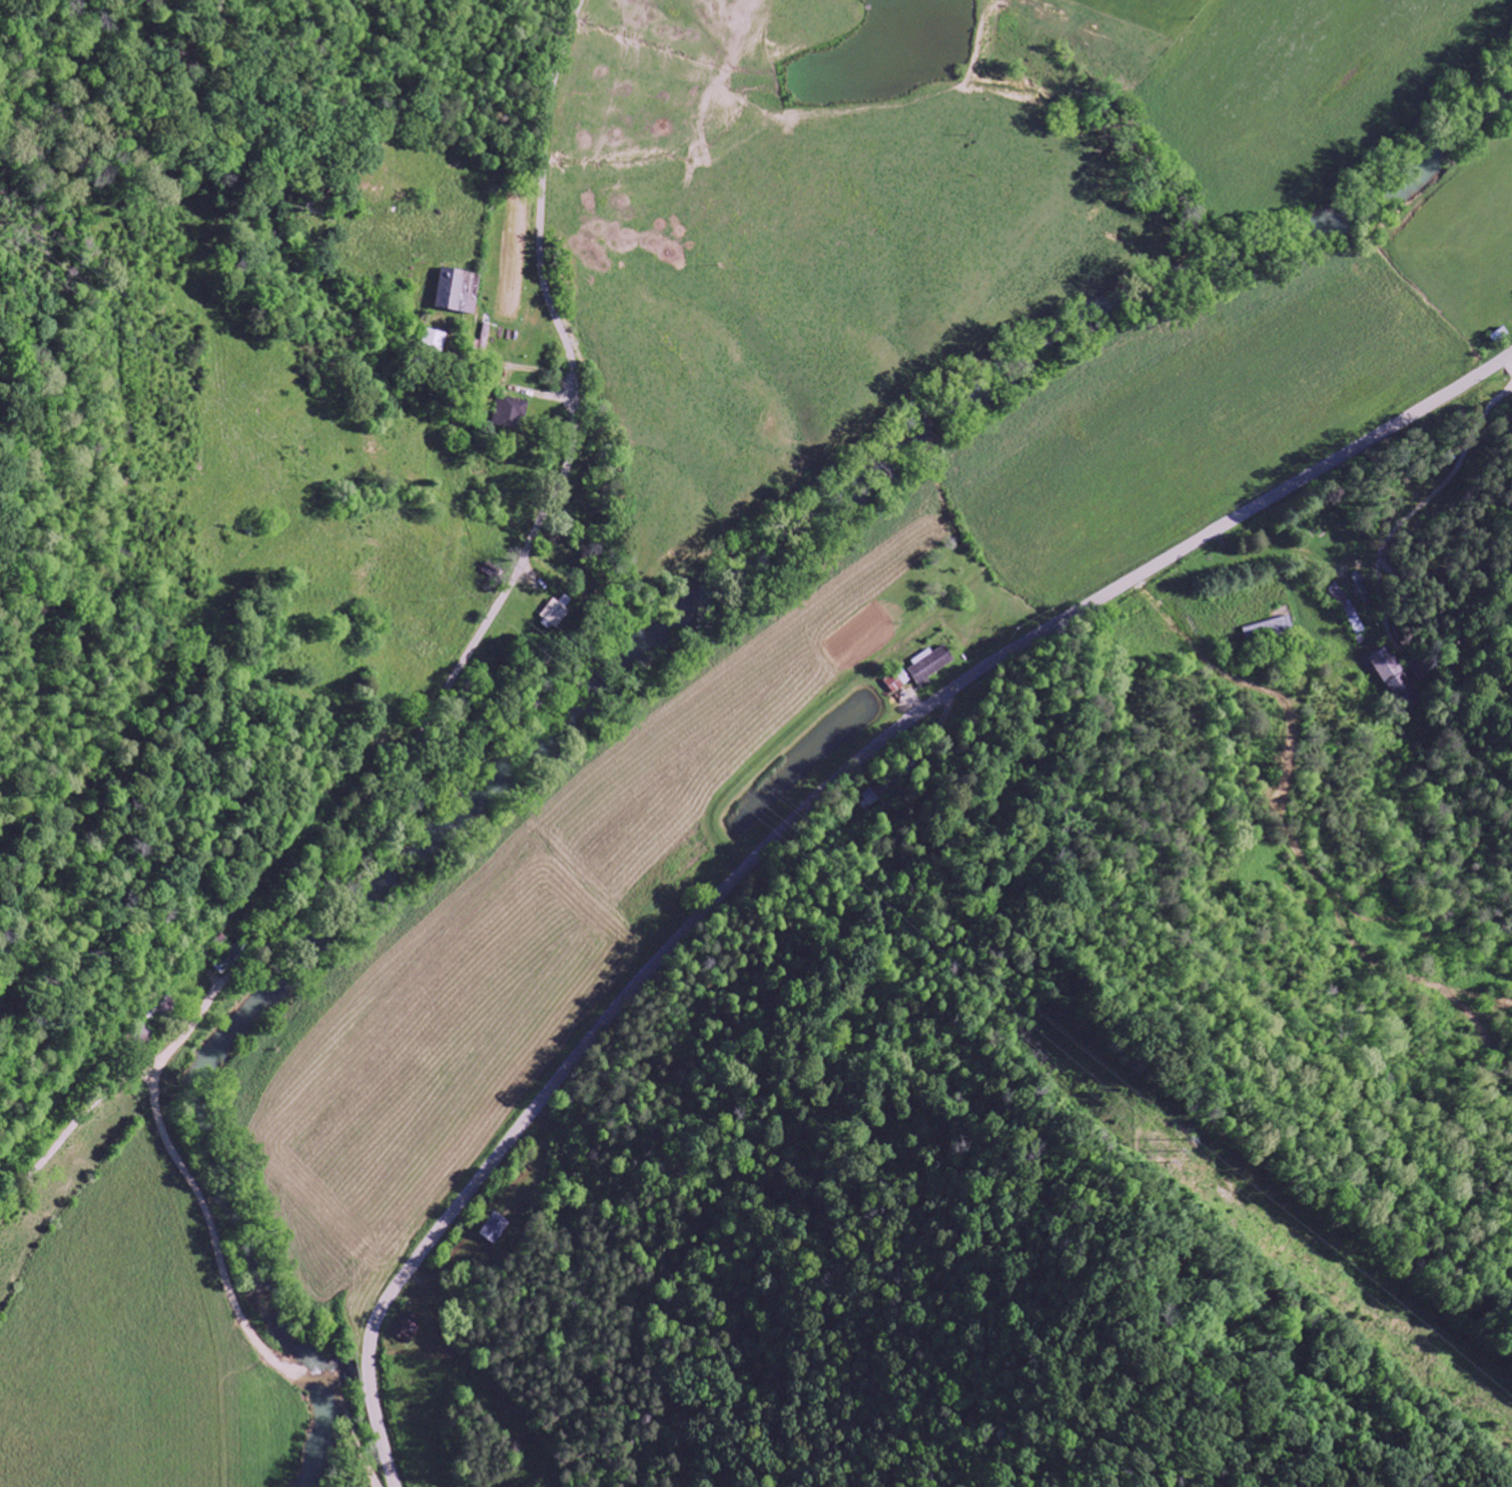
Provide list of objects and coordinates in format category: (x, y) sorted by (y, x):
building: (459, 292)
building: (433, 340)
building: (510, 413)
road: (516, 572)
building: (1348, 609)
building: (557, 613)
building: (1270, 630)
building: (933, 665)
building: (1389, 671)
building: (899, 681)
road: (806, 807)
road: (78, 1119)
power tower: (1168, 1142)
building: (496, 1228)
road: (232, 1293)

